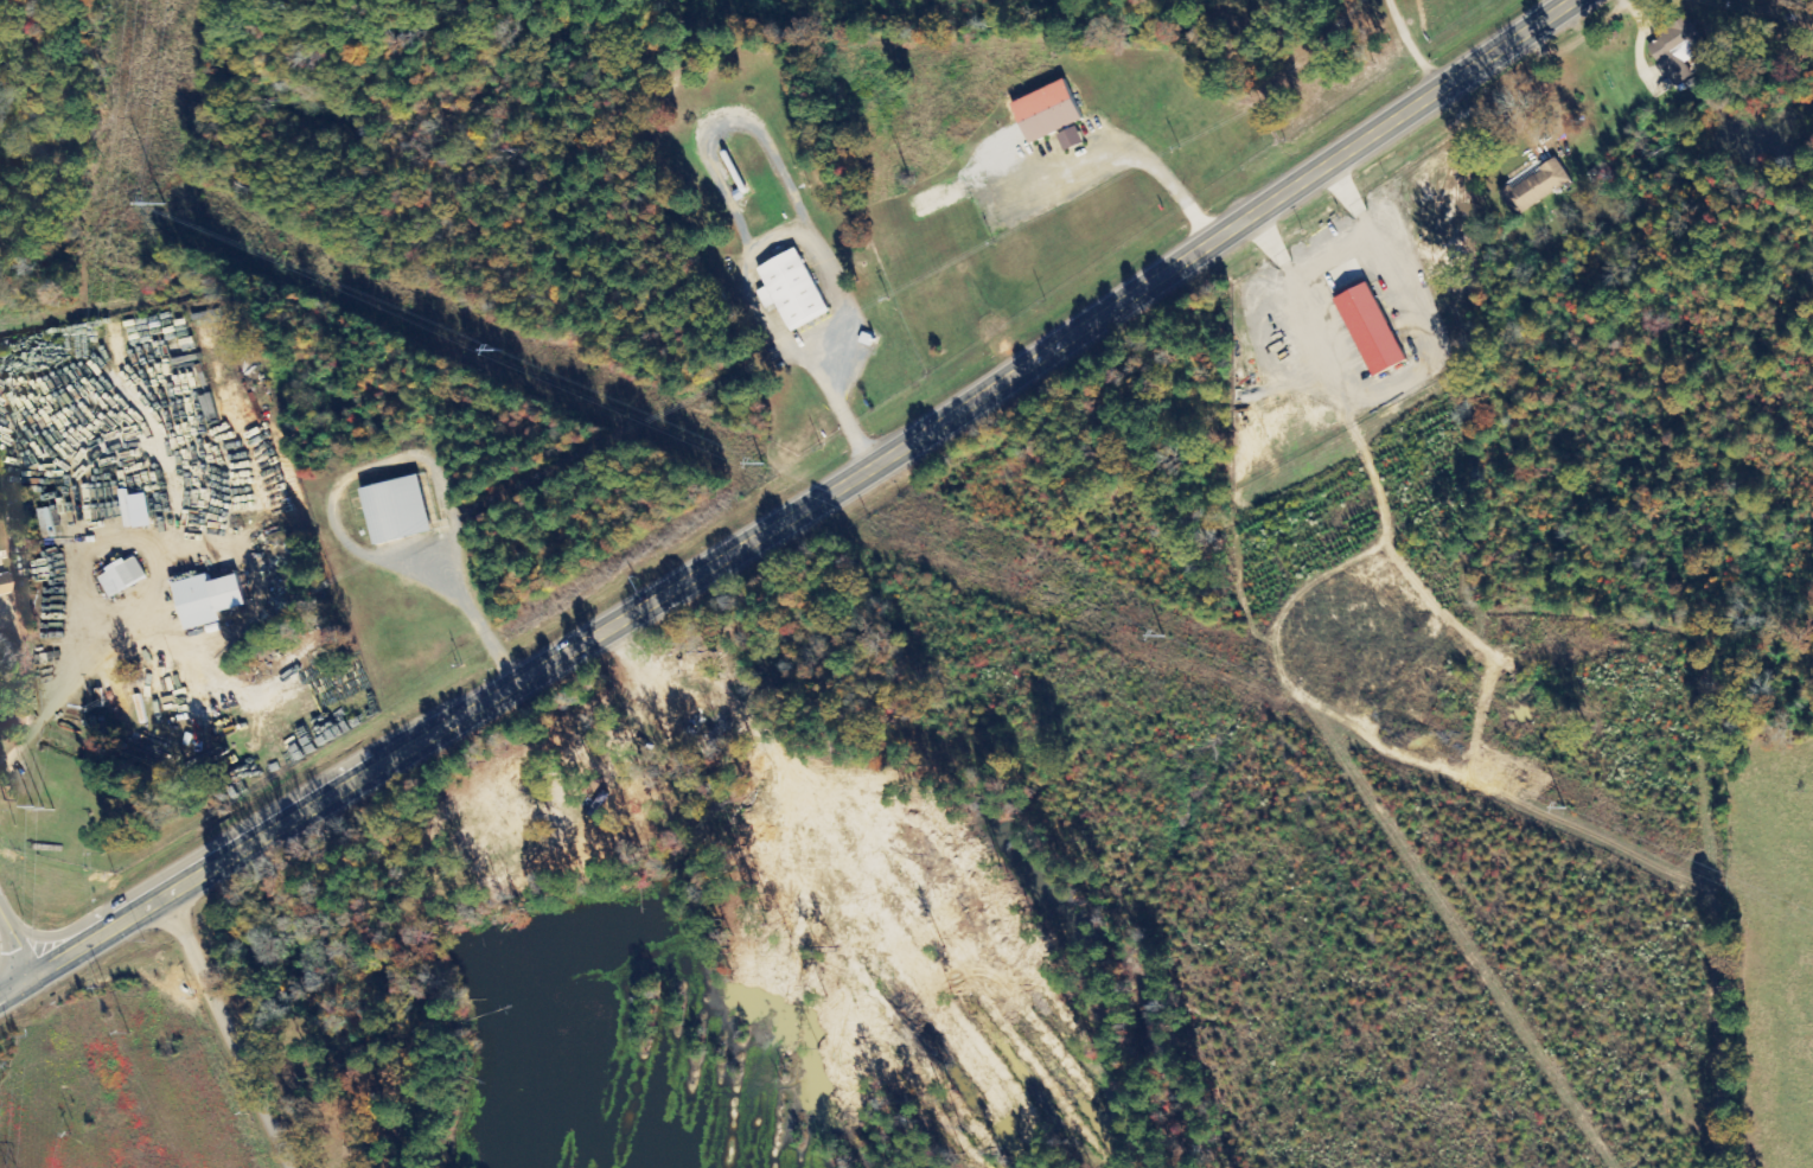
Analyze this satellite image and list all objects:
building: (1678, 50)
building: (1046, 111)
building: (1070, 139)
building: (1536, 187)
road: (1186, 257)
building: (790, 291)
building: (1370, 330)
building: (395, 510)
building: (139, 511)
building: (53, 519)
building: (121, 577)
building: (2, 586)
building: (206, 600)
road: (416, 745)
road: (17, 946)
road: (17, 987)
park: (321, 1022)
road: (234, 1032)

